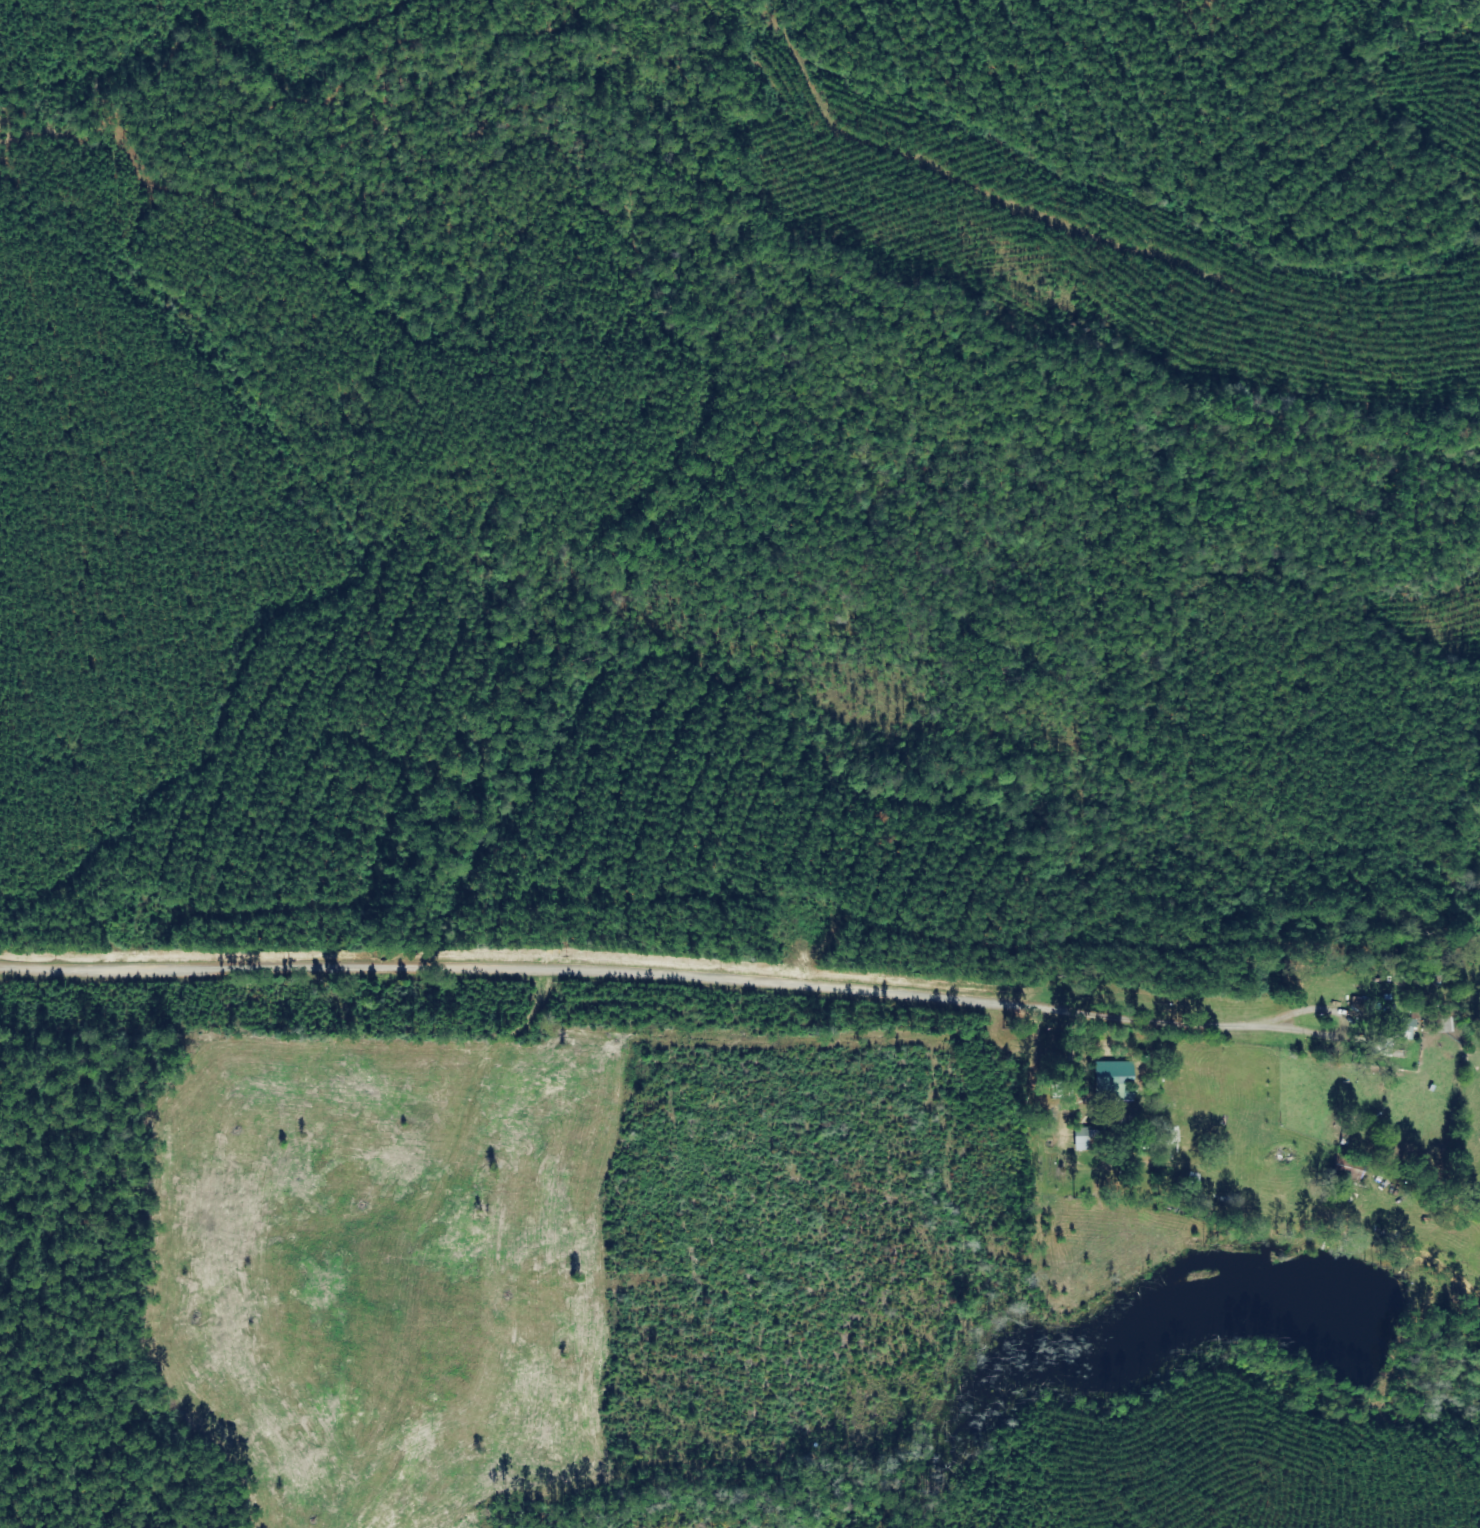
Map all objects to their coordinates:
road: (1297, 334)
road: (629, 987)
building: (1404, 1040)
building: (1115, 1080)
building: (1084, 1138)

